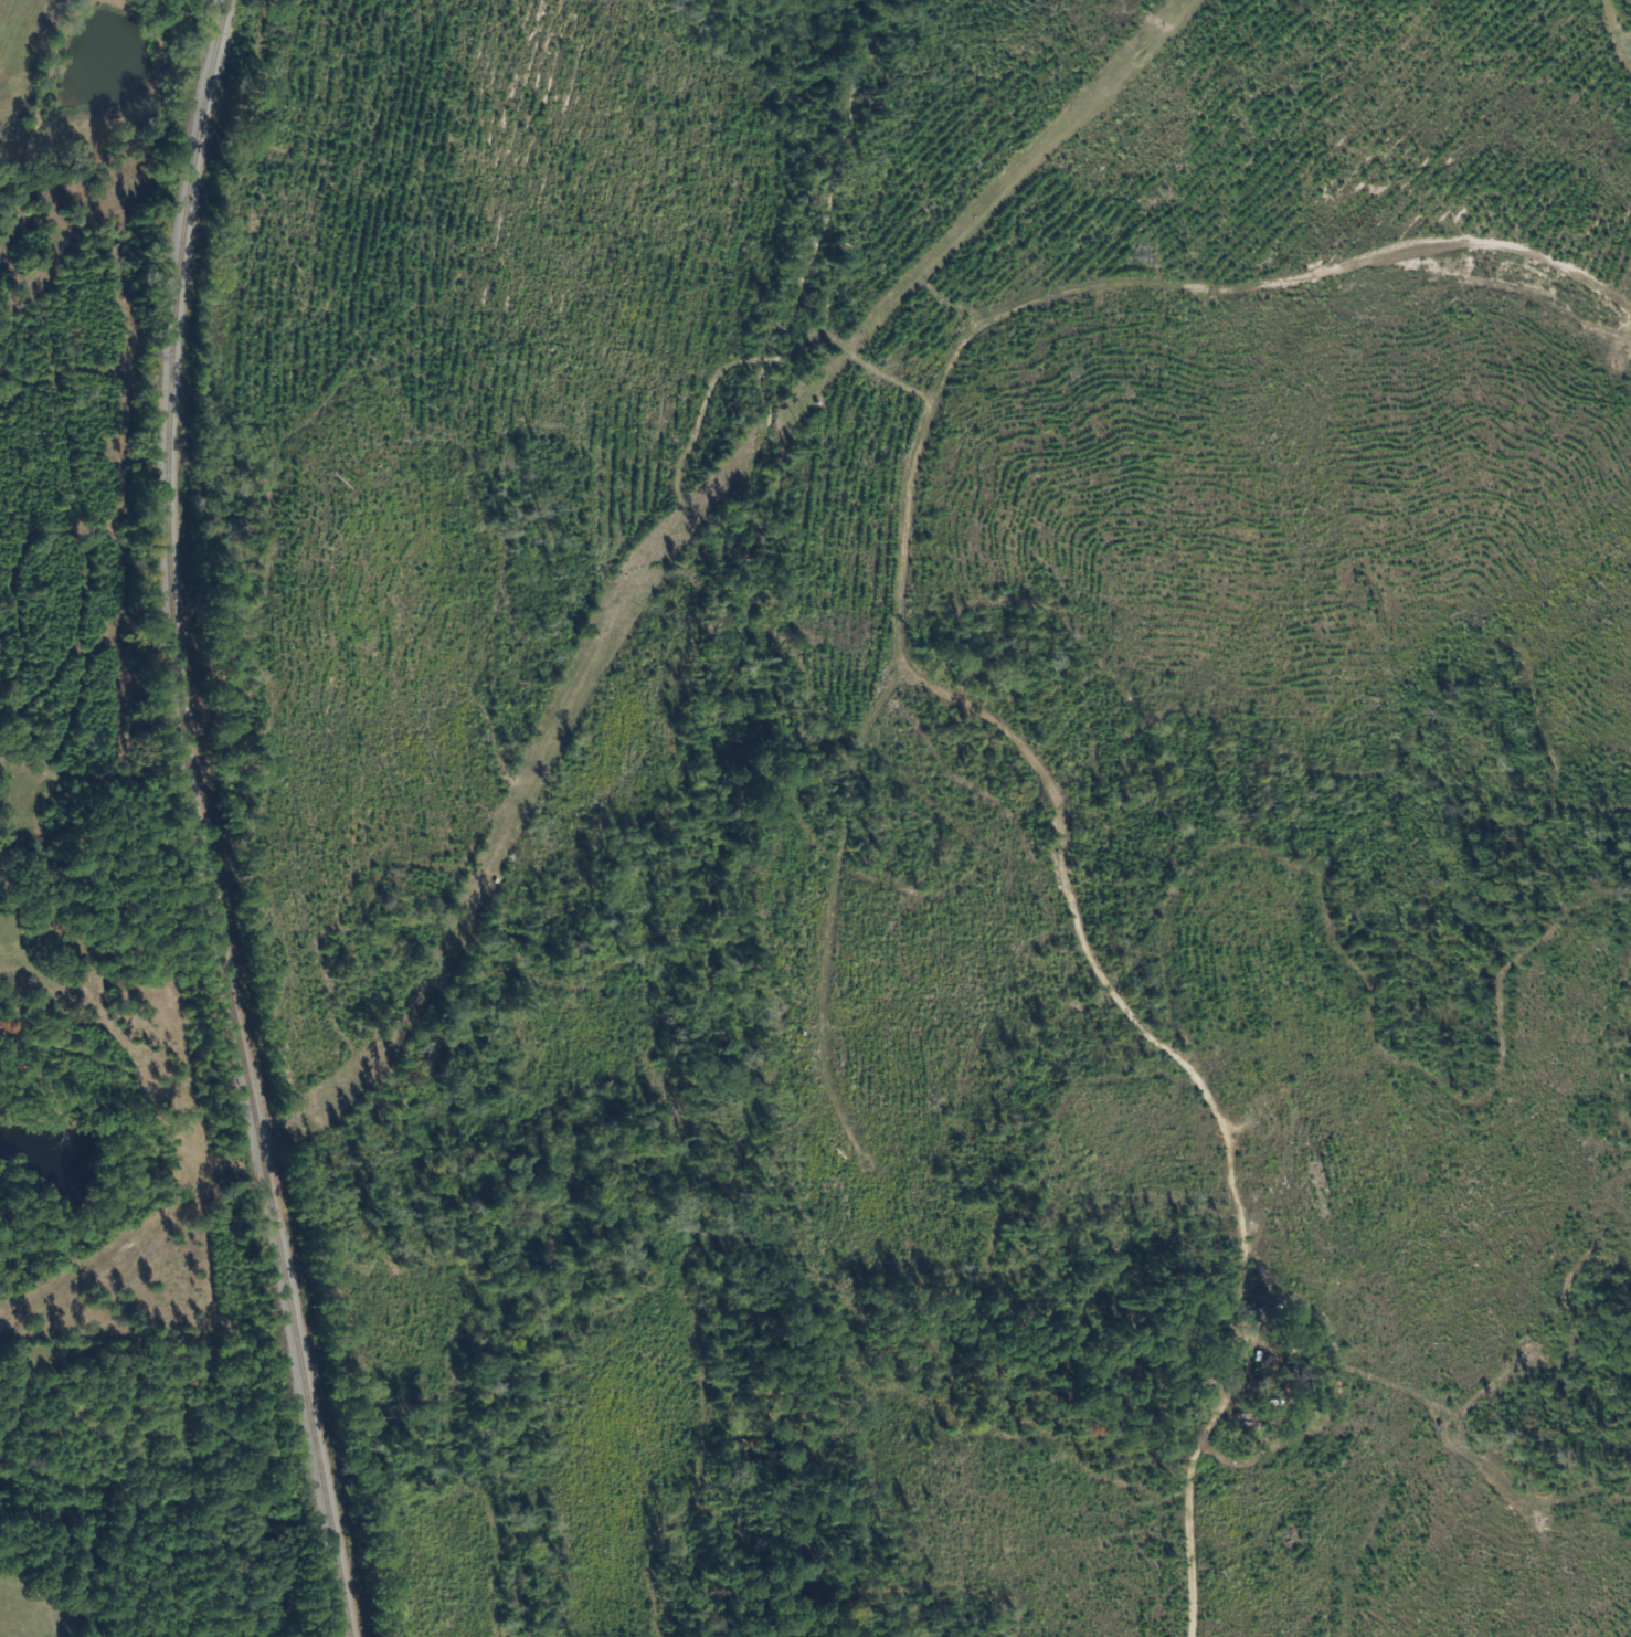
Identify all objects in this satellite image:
railway: (208, 821)

